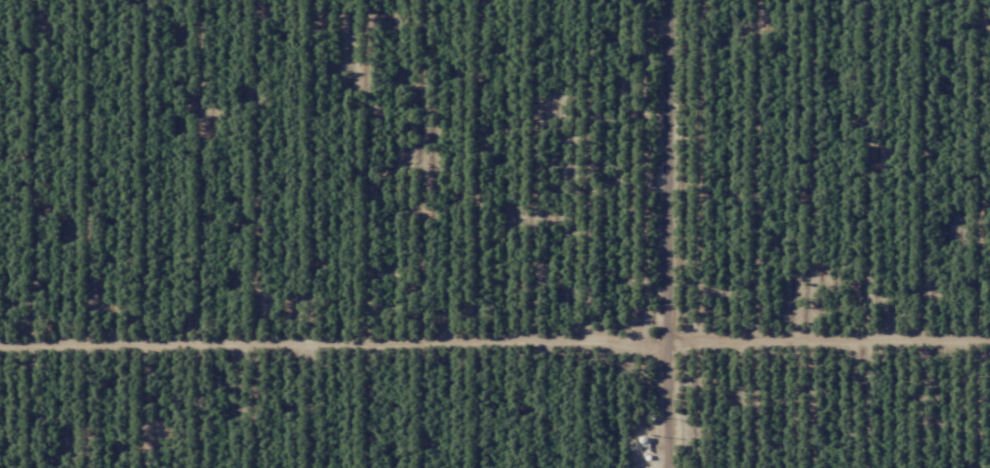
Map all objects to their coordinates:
road: (767, 338)

